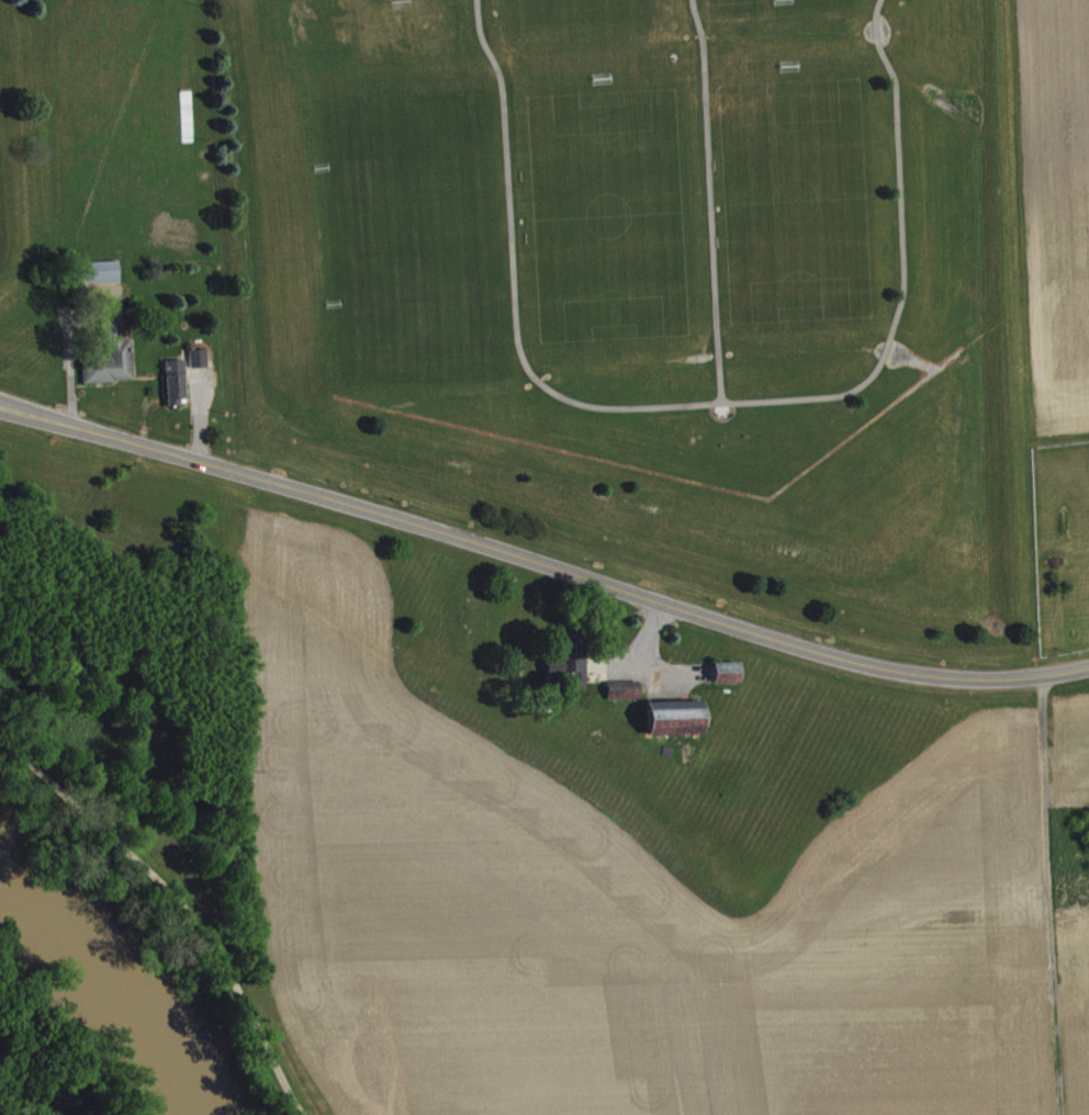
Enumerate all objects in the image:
park: (742, 2)
park: (579, 14)
park: (389, 144)
road: (708, 200)
park: (793, 202)
park: (26, 203)
park: (605, 215)
building: (96, 269)
building: (101, 280)
park: (642, 285)
park: (419, 302)
building: (116, 342)
road: (67, 354)
building: (195, 357)
building: (199, 365)
building: (172, 380)
road: (698, 403)
road: (197, 414)
road: (541, 562)
road: (644, 635)
building: (565, 658)
road: (647, 669)
building: (723, 669)
building: (728, 680)
road: (667, 684)
building: (619, 688)
building: (625, 698)
building: (671, 714)
road: (180, 902)
crop: (613, 906)
river: (119, 984)

